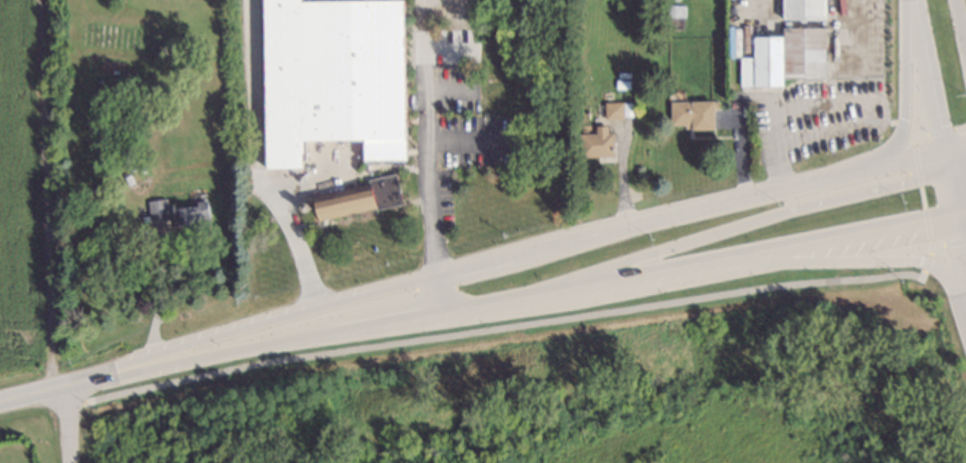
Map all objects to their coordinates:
building: (801, 9)
road: (962, 14)
road: (845, 18)
building: (770, 56)
building: (331, 77)
road: (930, 86)
building: (629, 95)
road: (912, 96)
building: (612, 110)
building: (690, 114)
road: (771, 135)
road: (423, 140)
building: (594, 145)
road: (254, 163)
road: (956, 170)
building: (356, 195)
road: (959, 206)
building: (155, 209)
building: (190, 215)
road: (956, 224)
road: (741, 227)
road: (569, 242)
road: (855, 261)
road: (573, 292)
road: (157, 306)
road: (525, 325)
road: (89, 381)
road: (66, 425)

